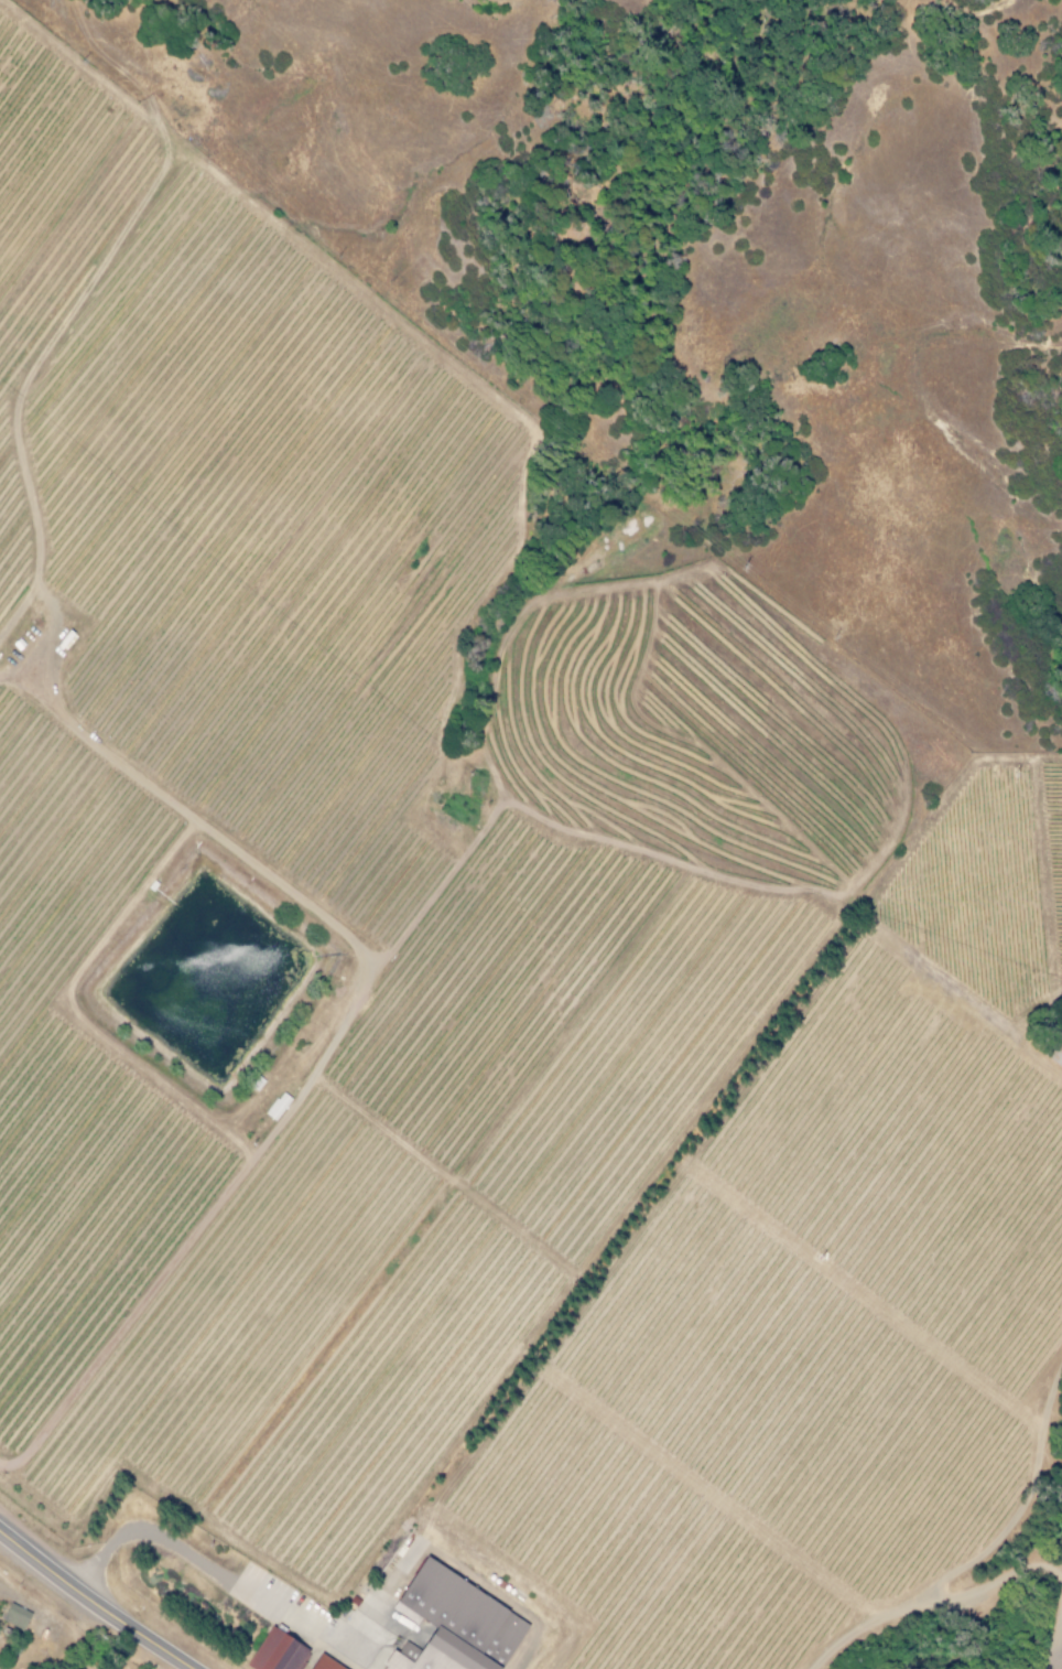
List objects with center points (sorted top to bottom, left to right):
road: (974, 11)
road: (79, 311)
building: (1054, 1055)
building: (277, 1105)
road: (219, 1574)
road: (94, 1602)
building: (13, 1616)
building: (448, 1624)
building: (275, 1652)
building: (322, 1663)

